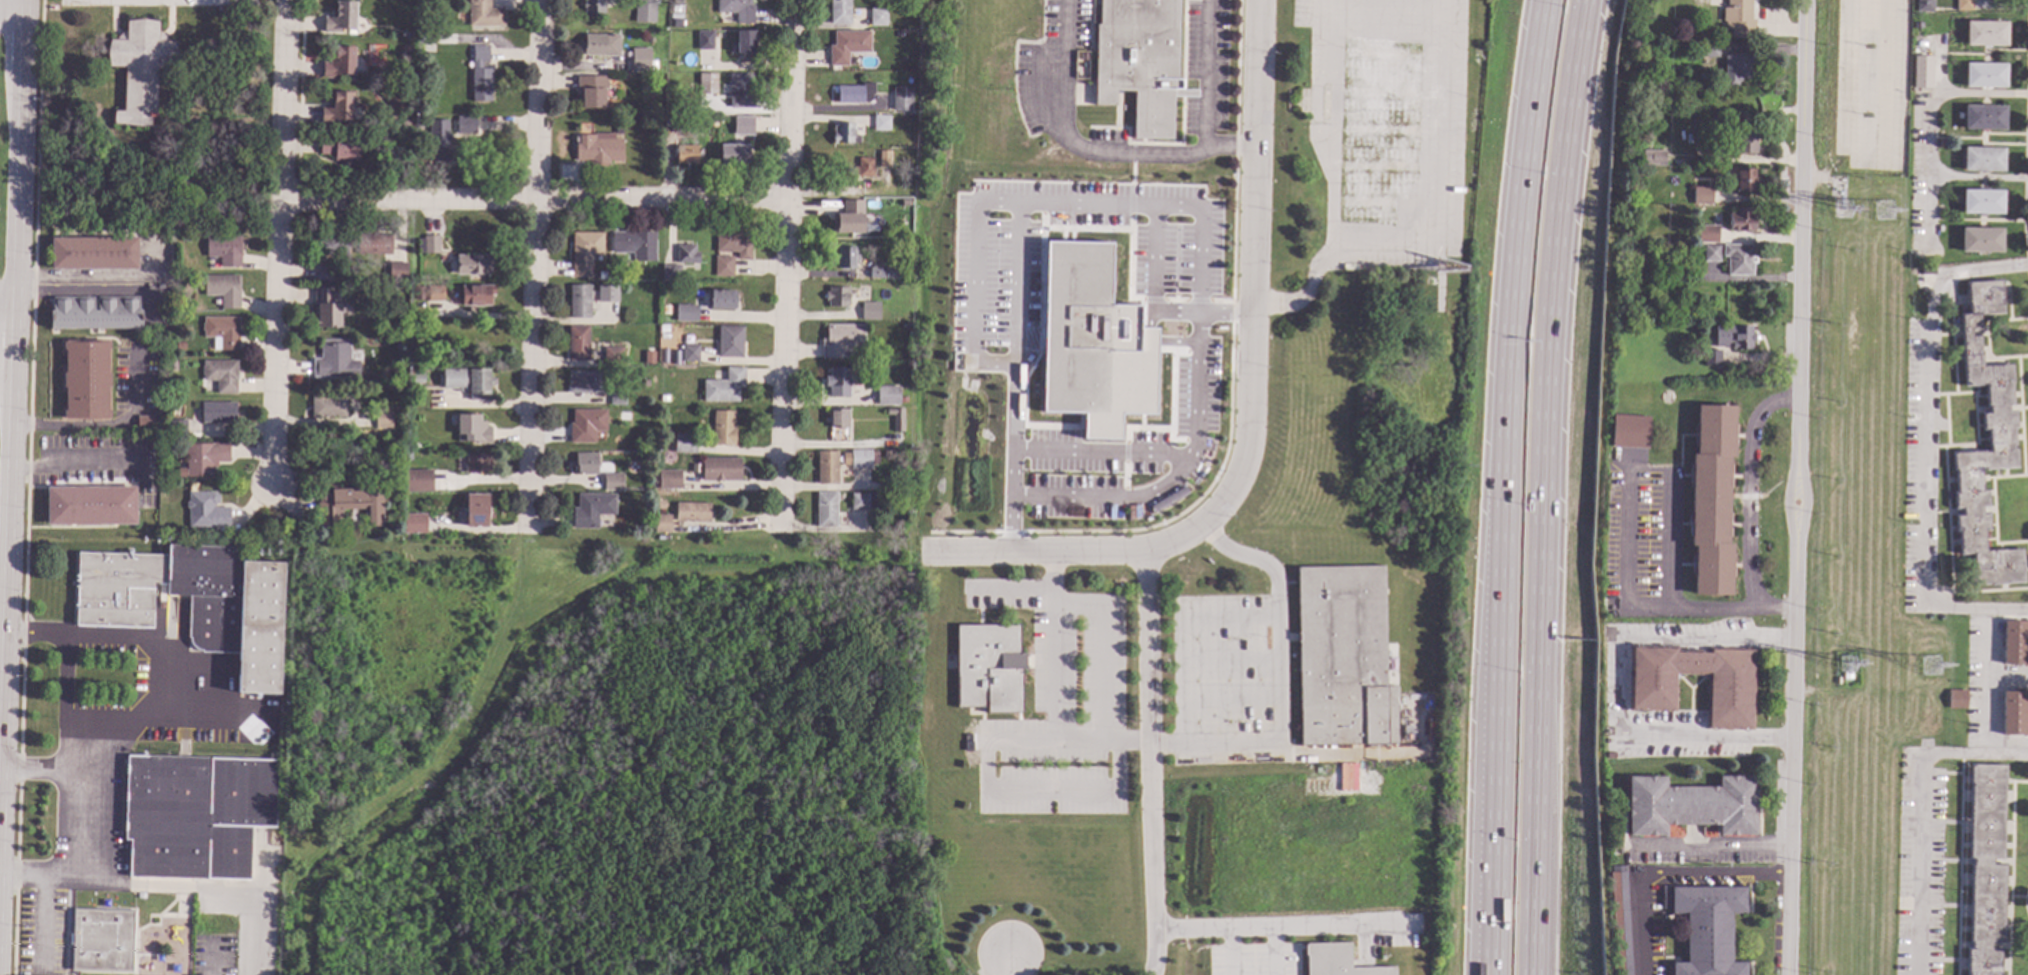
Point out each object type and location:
building: (1963, 5)
building: (1925, 6)
building: (644, 7)
building: (593, 8)
building: (1681, 9)
building: (737, 10)
building: (839, 12)
building: (484, 14)
road: (12, 17)
building: (340, 17)
building: (878, 18)
building: (1739, 19)
building: (676, 24)
building: (1917, 26)
building: (1985, 34)
building: (405, 36)
building: (704, 40)
building: (745, 44)
building: (847, 44)
building: (601, 45)
building: (406, 50)
building: (1680, 51)
building: (1709, 52)
building: (640, 60)
building: (1139, 62)
building: (339, 63)
building: (139, 69)
building: (1739, 69)
building: (1921, 72)
building: (481, 76)
building: (1984, 76)
building: (707, 84)
building: (591, 91)
building: (741, 91)
building: (854, 92)
road: (1936, 95)
building: (902, 97)
road: (1202, 100)
building: (336, 107)
road: (1329, 116)
building: (1958, 116)
building: (1983, 118)
building: (881, 122)
building: (675, 123)
building: (418, 124)
building: (716, 124)
building: (404, 125)
building: (466, 126)
building: (743, 126)
building: (844, 132)
road: (1064, 138)
building: (1702, 139)
building: (1743, 139)
building: (402, 140)
building: (441, 142)
building: (1940, 144)
building: (339, 148)
building: (598, 148)
road: (1132, 152)
building: (686, 154)
building: (733, 154)
building: (883, 157)
building: (1653, 158)
building: (1983, 161)
street lamp: (1540, 162)
building: (862, 166)
road: (1131, 174)
road: (1943, 178)
building: (1744, 181)
road: (849, 190)
building: (1703, 196)
road: (533, 199)
road: (1131, 199)
road: (1157, 202)
power tower: (1886, 202)
building: (1982, 202)
power tower: (1846, 204)
building: (1940, 213)
building: (849, 217)
building: (1741, 221)
road: (1440, 231)
building: (1704, 235)
building: (185, 236)
road: (277, 241)
building: (1981, 241)
building: (734, 244)
building: (331, 245)
building: (374, 245)
building: (428, 245)
building: (635, 245)
building: (225, 250)
building: (585, 252)
building: (94, 253)
building: (1711, 254)
building: (686, 255)
road: (1151, 256)
building: (846, 258)
building: (1738, 259)
building: (1672, 261)
building: (474, 264)
building: (909, 264)
road: (536, 266)
road: (786, 266)
building: (724, 267)
building: (880, 271)
building: (1928, 271)
building: (397, 272)
building: (670, 272)
building: (323, 273)
building: (601, 276)
road: (99, 278)
building: (612, 278)
building: (160, 287)
building: (224, 290)
road: (92, 292)
building: (418, 294)
building: (435, 294)
building: (607, 294)
building: (477, 296)
building: (837, 297)
road: (6, 298)
road: (1253, 299)
building: (721, 300)
building: (579, 302)
road: (973, 303)
building: (1452, 306)
building: (325, 309)
building: (665, 310)
building: (870, 311)
road: (1201, 311)
road: (1511, 311)
building: (95, 313)
building: (685, 314)
building: (906, 318)
building: (665, 319)
building: (906, 327)
street lamp: (1526, 327)
building: (222, 332)
building: (399, 338)
building: (1734, 338)
building: (840, 340)
road: (1161, 340)
building: (729, 342)
building: (1091, 342)
building: (578, 344)
building: (180, 346)
building: (689, 353)
building: (613, 357)
building: (649, 358)
building: (1712, 358)
building: (336, 360)
building: (173, 366)
road: (12, 368)
building: (221, 375)
building: (416, 376)
road: (1015, 377)
building: (86, 380)
building: (838, 382)
building: (468, 383)
building: (585, 383)
building: (645, 383)
building: (724, 387)
building: (903, 387)
building: (887, 395)
building: (617, 397)
building: (329, 408)
building: (218, 413)
building: (837, 419)
building: (383, 420)
building: (897, 420)
building: (145, 424)
building: (586, 425)
road: (104, 426)
building: (177, 429)
building: (472, 429)
building: (723, 429)
building: (1630, 432)
building: (2001, 441)
building: (134, 444)
building: (685, 444)
road: (1923, 447)
road: (1084, 448)
building: (882, 454)
road: (1172, 455)
building: (204, 458)
building: (408, 458)
building: (859, 458)
road: (74, 461)
building: (476, 463)
building: (586, 465)
building: (826, 467)
building: (720, 470)
building: (416, 478)
building: (669, 480)
building: (612, 483)
road: (1541, 486)
road: (1794, 487)
road: (1165, 488)
road: (1744, 489)
street lamp: (1520, 495)
building: (863, 500)
building: (1711, 501)
building: (349, 505)
building: (659, 505)
building: (91, 506)
building: (825, 508)
building: (591, 510)
building: (205, 511)
building: (476, 511)
building: (692, 512)
building: (662, 523)
building: (414, 524)
road: (1630, 536)
road: (1037, 554)
road: (847, 570)
building: (193, 602)
road: (1180, 633)
building: (2015, 643)
road: (875, 654)
building: (1342, 658)
street lamp: (1517, 664)
building: (989, 668)
power tower: (1926, 672)
road: (2009, 674)
road: (1276, 675)
building: (1847, 677)
power tower: (1846, 678)
building: (1837, 681)
road: (1990, 682)
road: (1616, 688)
road: (1052, 693)
building: (1651, 693)
building: (1956, 700)
road: (62, 702)
building: (2014, 714)
road: (143, 724)
building: (967, 746)
road: (1151, 747)
park: (603, 760)
road: (430, 769)
road: (1496, 792)
building: (1691, 806)
road: (1915, 808)
building: (195, 815)
road: (60, 822)
road: (641, 833)
street lamp: (1514, 836)
road: (1706, 845)
building: (1985, 869)
road: (30, 875)
road: (1664, 875)
road: (447, 882)
road: (898, 903)
road: (857, 904)
road: (722, 908)
building: (181, 909)
building: (1621, 924)
building: (1705, 926)
road: (1283, 927)
road: (697, 930)
building: (101, 940)
road: (867, 947)
road: (1271, 951)
road: (1228, 952)
road: (571, 959)
road: (1151, 960)
building: (1337, 961)
road: (1006, 965)
road: (1489, 967)
road: (1490, 967)

